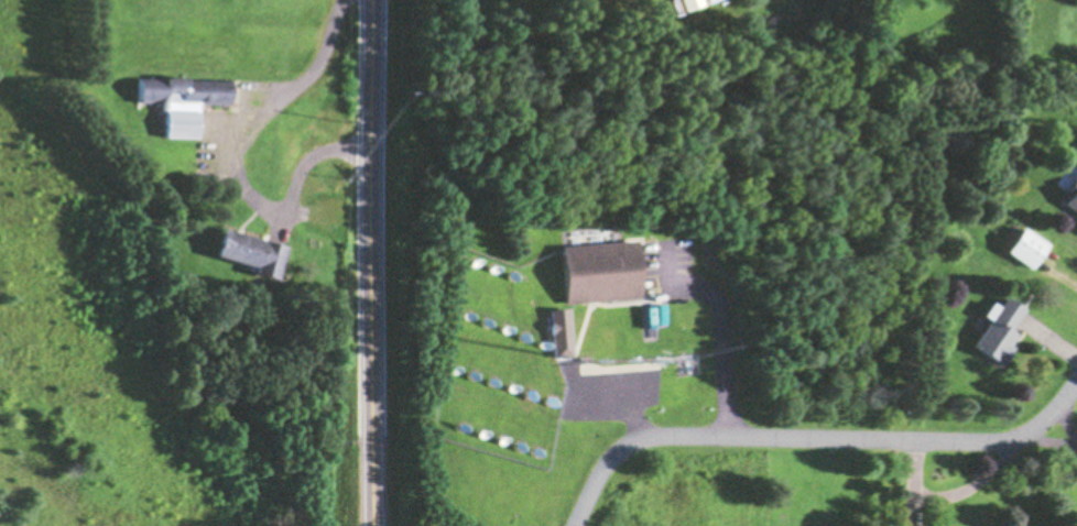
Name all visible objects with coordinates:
building: (693, 2)
building: (181, 101)
road: (237, 140)
building: (1029, 248)
building: (251, 251)
road: (370, 263)
building: (602, 272)
building: (1001, 331)
building: (562, 332)
building: (592, 335)
crop: (146, 347)
road: (811, 436)

